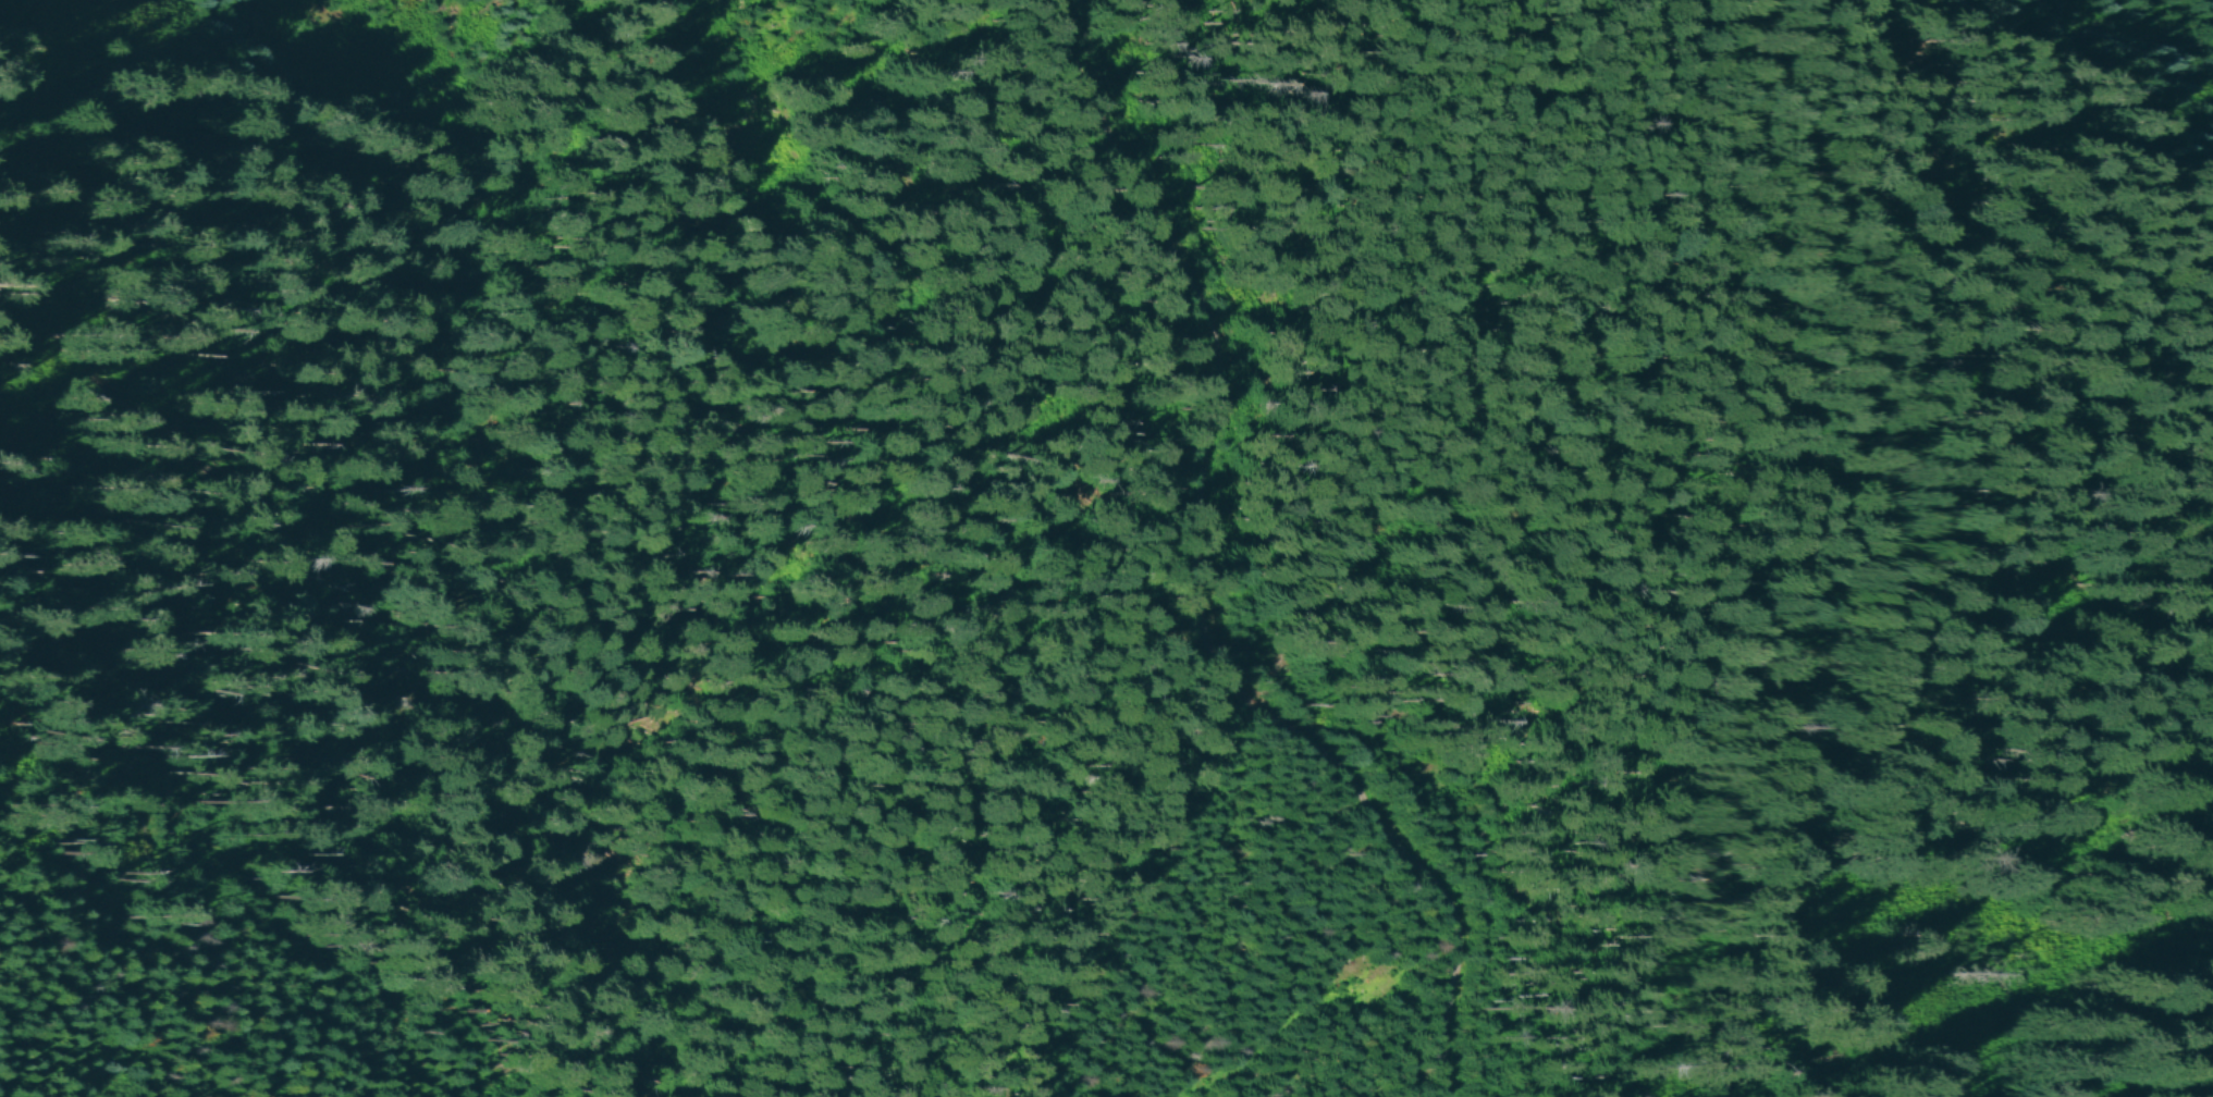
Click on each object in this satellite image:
road: (2028, 171)
road: (2106, 514)
road: (1191, 581)

